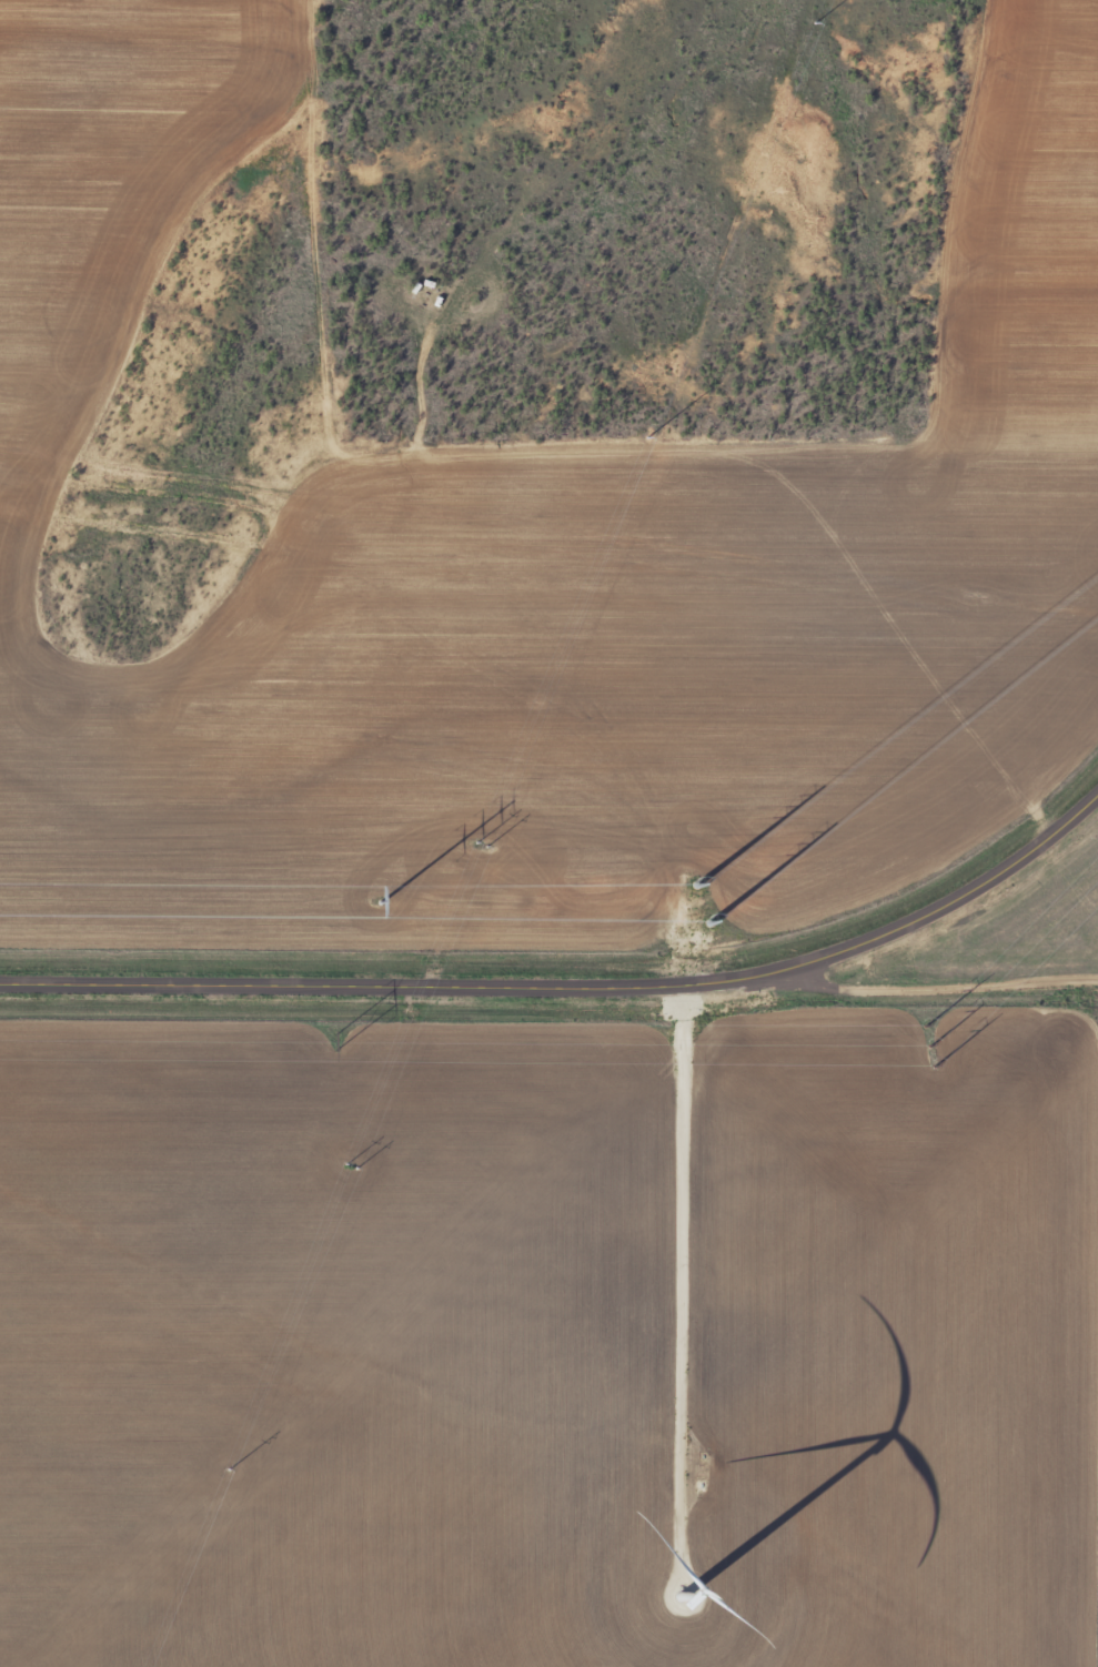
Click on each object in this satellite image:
power tower: (815, 20)
power tower: (674, 371)
power tower: (540, 704)
power tower: (703, 901)
power tower: (381, 902)
road: (959, 972)
road: (574, 991)
power tower: (334, 1044)
power tower: (925, 1045)
power tower: (384, 1083)
power tower: (229, 1466)
wind turbine: (696, 1589)

